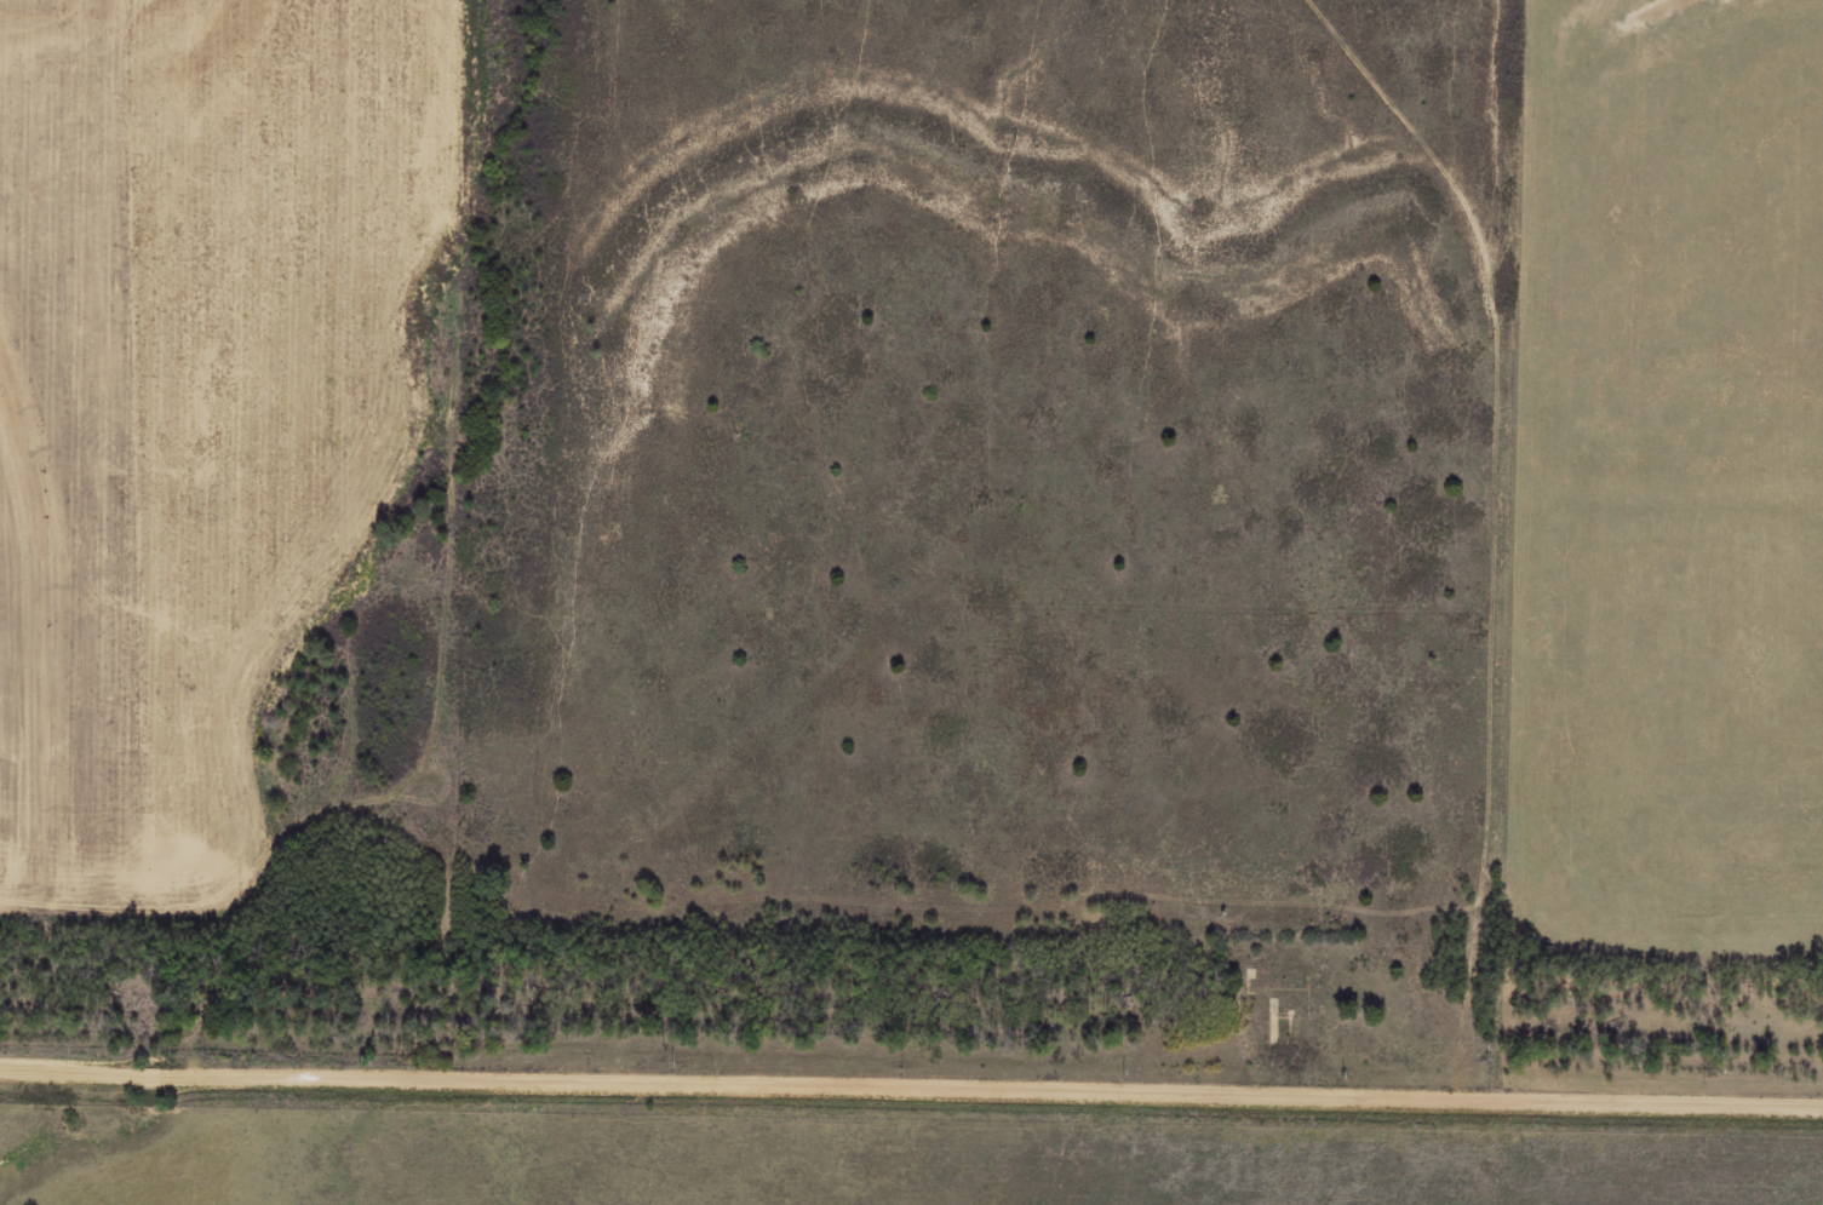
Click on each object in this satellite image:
road: (119, 61)
road: (1494, 546)
road: (911, 1081)

